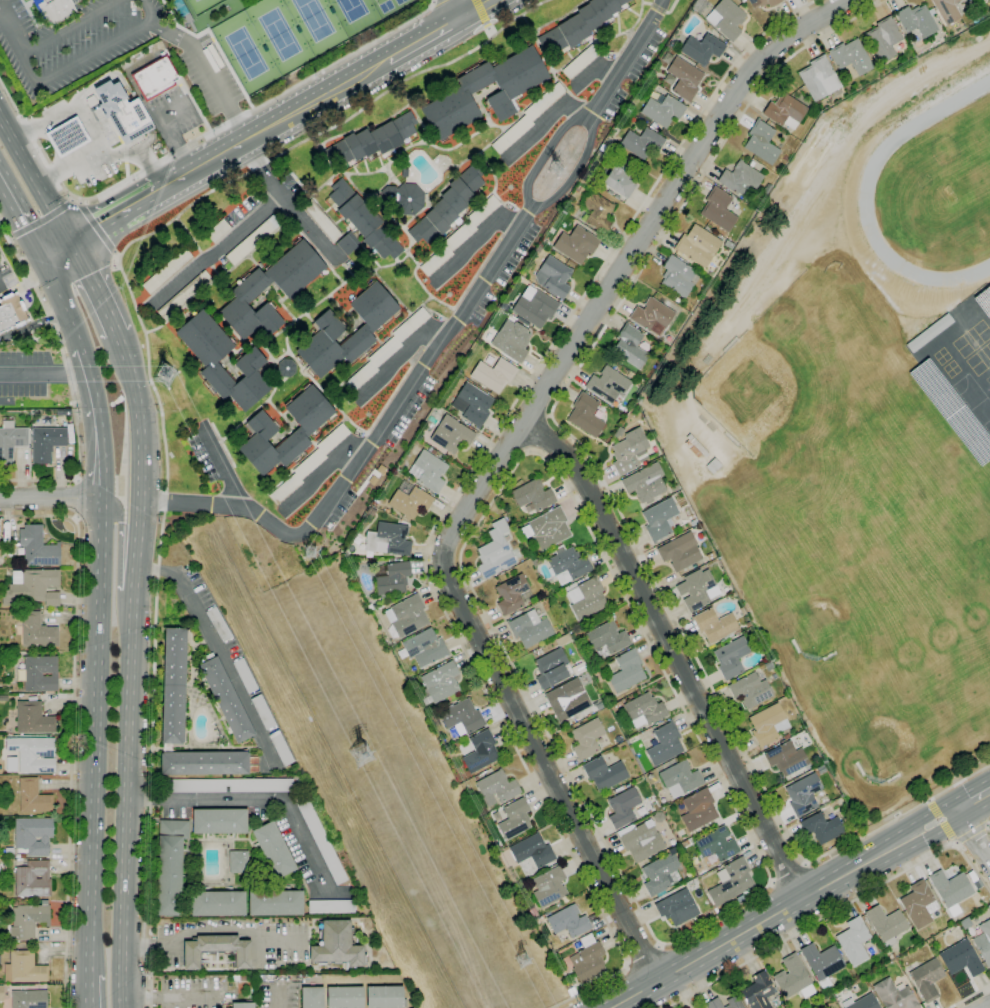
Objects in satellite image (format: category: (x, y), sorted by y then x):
park: (196, 0)
park: (400, 1)
building: (743, 1)
building: (762, 3)
park: (384, 5)
building: (699, 6)
road: (458, 8)
road: (478, 8)
building: (55, 9)
park: (352, 9)
building: (946, 10)
building: (182, 12)
park: (313, 18)
road: (484, 18)
building: (726, 19)
building: (917, 20)
building: (976, 22)
building: (578, 25)
road: (70, 27)
road: (11, 32)
park: (279, 34)
road: (425, 38)
building: (883, 39)
parking lot: (73, 41)
building: (702, 48)
road: (90, 51)
park: (246, 53)
building: (850, 57)
road: (625, 60)
building: (580, 61)
road: (207, 70)
road: (592, 70)
road: (107, 75)
building: (155, 77)
building: (684, 78)
building: (819, 78)
building: (509, 93)
road: (311, 101)
building: (662, 110)
building: (785, 111)
building: (124, 112)
road: (142, 116)
building: (528, 118)
road: (545, 121)
road: (92, 129)
building: (68, 137)
gas station: (68, 137)
building: (380, 137)
road: (147, 141)
road: (194, 142)
building: (761, 142)
building: (641, 143)
road: (544, 157)
road: (68, 161)
road: (207, 161)
road: (577, 166)
park: (968, 167)
power tower: (554, 171)
building: (404, 172)
road: (35, 179)
building: (740, 179)
building: (618, 181)
track: (867, 182)
building: (577, 188)
track: (939, 192)
building: (407, 199)
road: (137, 202)
building: (448, 205)
road: (292, 208)
building: (717, 209)
building: (597, 212)
road: (41, 219)
building: (321, 220)
building: (364, 220)
road: (20, 222)
road: (98, 227)
building: (218, 231)
road: (85, 233)
building: (460, 235)
road: (475, 237)
building: (253, 240)
traffic signals: (73, 241)
building: (545, 242)
building: (348, 243)
building: (576, 244)
building: (698, 245)
building: (728, 245)
building: (539, 248)
road: (56, 249)
road: (214, 252)
traffic signals: (39, 257)
road: (625, 259)
parking lot: (3, 265)
building: (167, 271)
building: (553, 277)
building: (678, 277)
building: (424, 280)
road: (95, 285)
building: (247, 290)
building: (184, 295)
road: (61, 302)
building: (534, 306)
building: (651, 314)
building: (13, 316)
road: (33, 325)
building: (329, 329)
building: (511, 340)
building: (630, 346)
building: (386, 349)
building: (251, 359)
building: (617, 359)
building: (286, 367)
road: (43, 371)
power tower: (167, 373)
parking lot: (24, 374)
building: (494, 374)
road: (150, 379)
road: (70, 380)
park: (989, 380)
building: (608, 384)
park: (757, 391)
building: (472, 404)
building: (586, 414)
road: (99, 423)
building: (263, 430)
road: (539, 433)
building: (451, 434)
building: (11, 440)
road: (371, 440)
building: (47, 442)
building: (695, 447)
building: (630, 451)
building: (310, 463)
building: (713, 465)
road: (224, 470)
building: (429, 470)
building: (645, 483)
road: (605, 485)
building: (674, 488)
road: (456, 494)
building: (533, 495)
road: (76, 498)
building: (410, 499)
road: (50, 500)
building: (375, 502)
building: (386, 510)
building: (661, 519)
building: (693, 522)
building: (549, 528)
building: (388, 539)
park: (903, 541)
building: (38, 547)
building: (495, 550)
building: (680, 552)
power tower: (309, 554)
road: (118, 559)
building: (536, 560)
building: (567, 564)
building: (184, 568)
building: (393, 580)
building: (32, 587)
building: (697, 589)
building: (513, 594)
building: (587, 598)
building: (370, 607)
building: (742, 611)
building: (407, 615)
building: (746, 617)
park: (821, 623)
building: (218, 624)
building: (748, 624)
building: (715, 625)
building: (530, 628)
building: (37, 631)
building: (607, 639)
building: (563, 640)
building: (424, 648)
road: (215, 652)
road: (672, 652)
building: (731, 657)
building: (769, 666)
road: (131, 667)
building: (580, 667)
building: (599, 667)
building: (552, 669)
building: (626, 671)
building: (39, 673)
building: (245, 675)
building: (441, 681)
building: (174, 685)
building: (750, 690)
building: (608, 693)
building: (225, 698)
building: (569, 698)
building: (427, 700)
building: (600, 705)
building: (644, 710)
building: (263, 712)
building: (33, 718)
building: (462, 718)
building: (768, 724)
road: (72, 725)
road: (96, 737)
building: (587, 738)
building: (664, 744)
park: (883, 745)
building: (167, 748)
building: (281, 748)
building: (480, 751)
building: (33, 753)
power tower: (360, 757)
building: (786, 758)
building: (207, 763)
building: (11, 764)
building: (860, 769)
road: (546, 771)
building: (604, 773)
building: (475, 777)
building: (680, 779)
building: (892, 779)
building: (227, 785)
building: (497, 788)
building: (803, 794)
building: (33, 797)
road: (973, 800)
road: (258, 802)
building: (623, 807)
building: (656, 807)
building: (479, 809)
building: (698, 810)
building: (658, 817)
building: (514, 819)
building: (219, 821)
road: (941, 822)
building: (822, 827)
road: (972, 834)
building: (33, 836)
road: (972, 836)
building: (640, 840)
building: (321, 841)
building: (717, 844)
building: (676, 849)
building: (8, 850)
building: (274, 850)
building: (532, 851)
building: (238, 861)
building: (170, 866)
road: (788, 872)
building: (661, 874)
building: (33, 879)
building: (731, 882)
building: (549, 887)
building: (950, 890)
building: (218, 903)
building: (275, 903)
building: (919, 904)
building: (331, 906)
building: (677, 907)
building: (989, 907)
road: (783, 909)
road: (835, 910)
building: (28, 921)
building: (568, 921)
building: (886, 924)
road: (208, 930)
road: (688, 933)
building: (853, 941)
building: (984, 942)
building: (336, 945)
building: (577, 945)
building: (217, 950)
road: (643, 955)
building: (961, 958)
building: (587, 959)
power tower: (522, 962)
building: (822, 963)
building: (24, 968)
building: (793, 977)
building: (239, 978)
building: (927, 979)
building: (4, 982)
road: (92, 990)
building: (571, 991)
building: (758, 991)
building: (1, 993)
parking lot: (190, 993)
road: (167, 994)
parking lot: (278, 995)
building: (894, 995)
road: (969, 996)
building: (312, 997)
building: (345, 997)
building: (384, 997)
road: (280, 998)
building: (29, 999)
road: (91, 1002)
building: (733, 1002)
building: (861, 1002)
building: (713, 1003)
building: (244, 1004)
road: (987, 1006)
building: (700, 1007)

